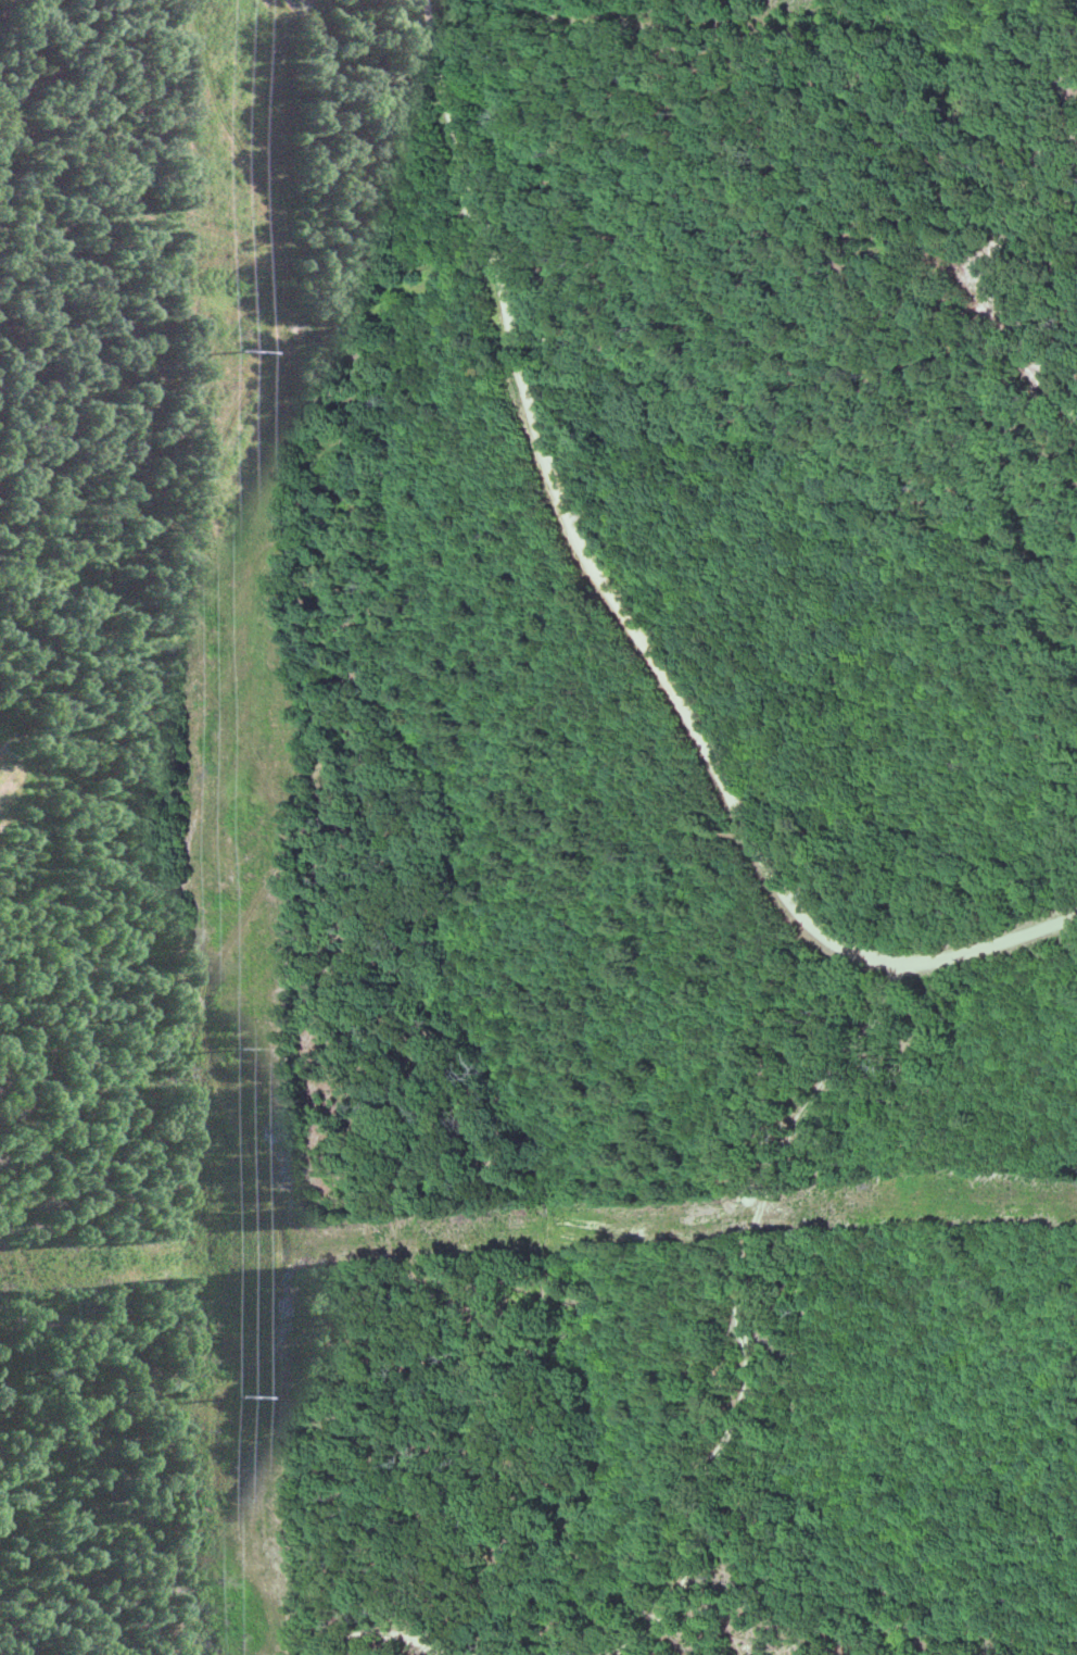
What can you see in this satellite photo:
power tower: (237, 353)
road: (630, 611)
power tower: (239, 1052)
road: (734, 1303)
power tower: (243, 1396)
road: (381, 1637)

